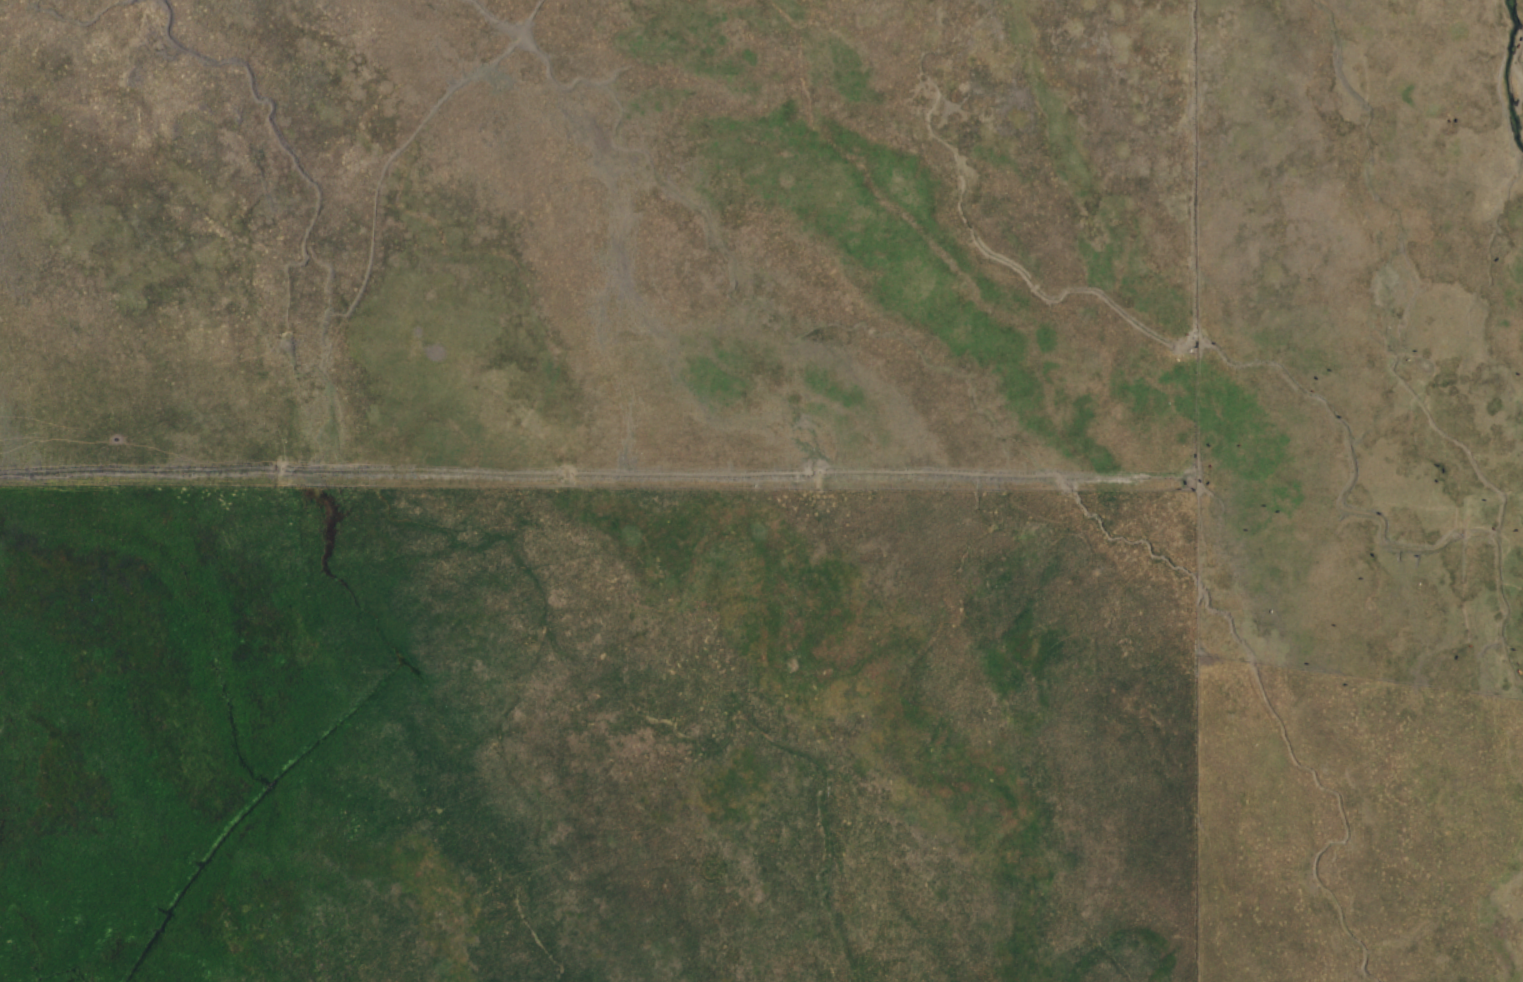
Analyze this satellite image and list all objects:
crop: (761, 491)

